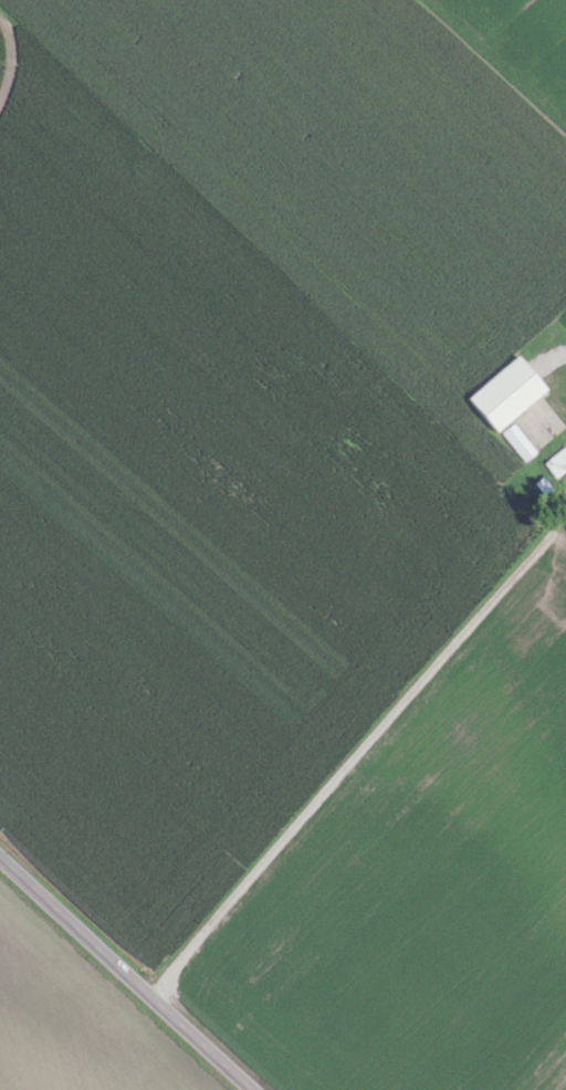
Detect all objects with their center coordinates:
building: (504, 392)
building: (516, 441)
building: (555, 461)
road: (350, 757)
road: (125, 973)

